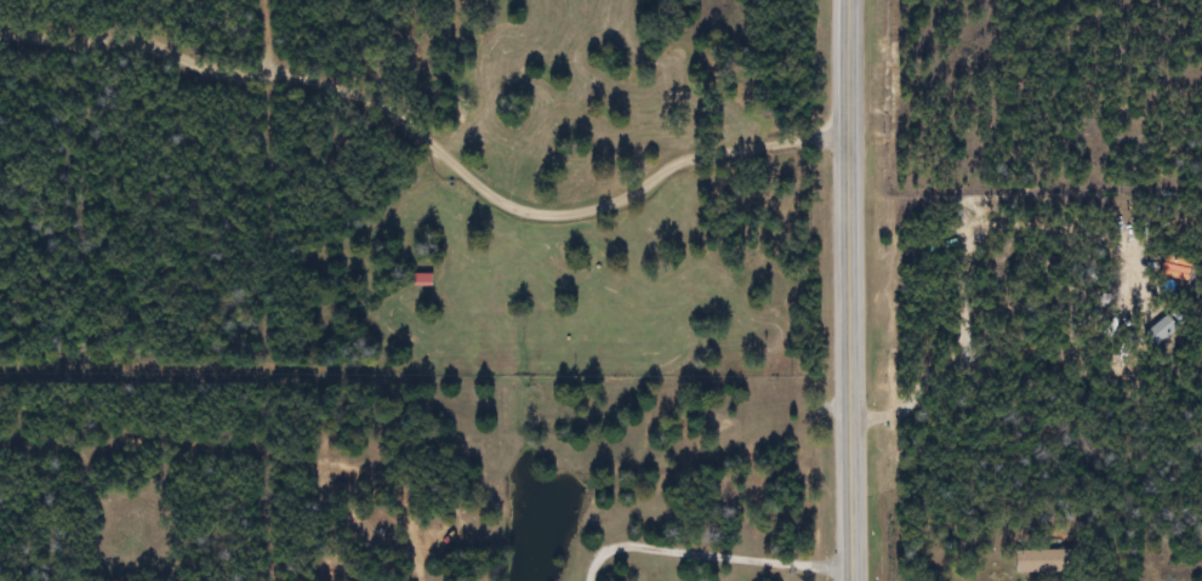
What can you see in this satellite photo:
road: (427, 155)
road: (1024, 263)
building: (425, 278)
road: (847, 290)
road: (700, 546)
building: (1046, 560)

